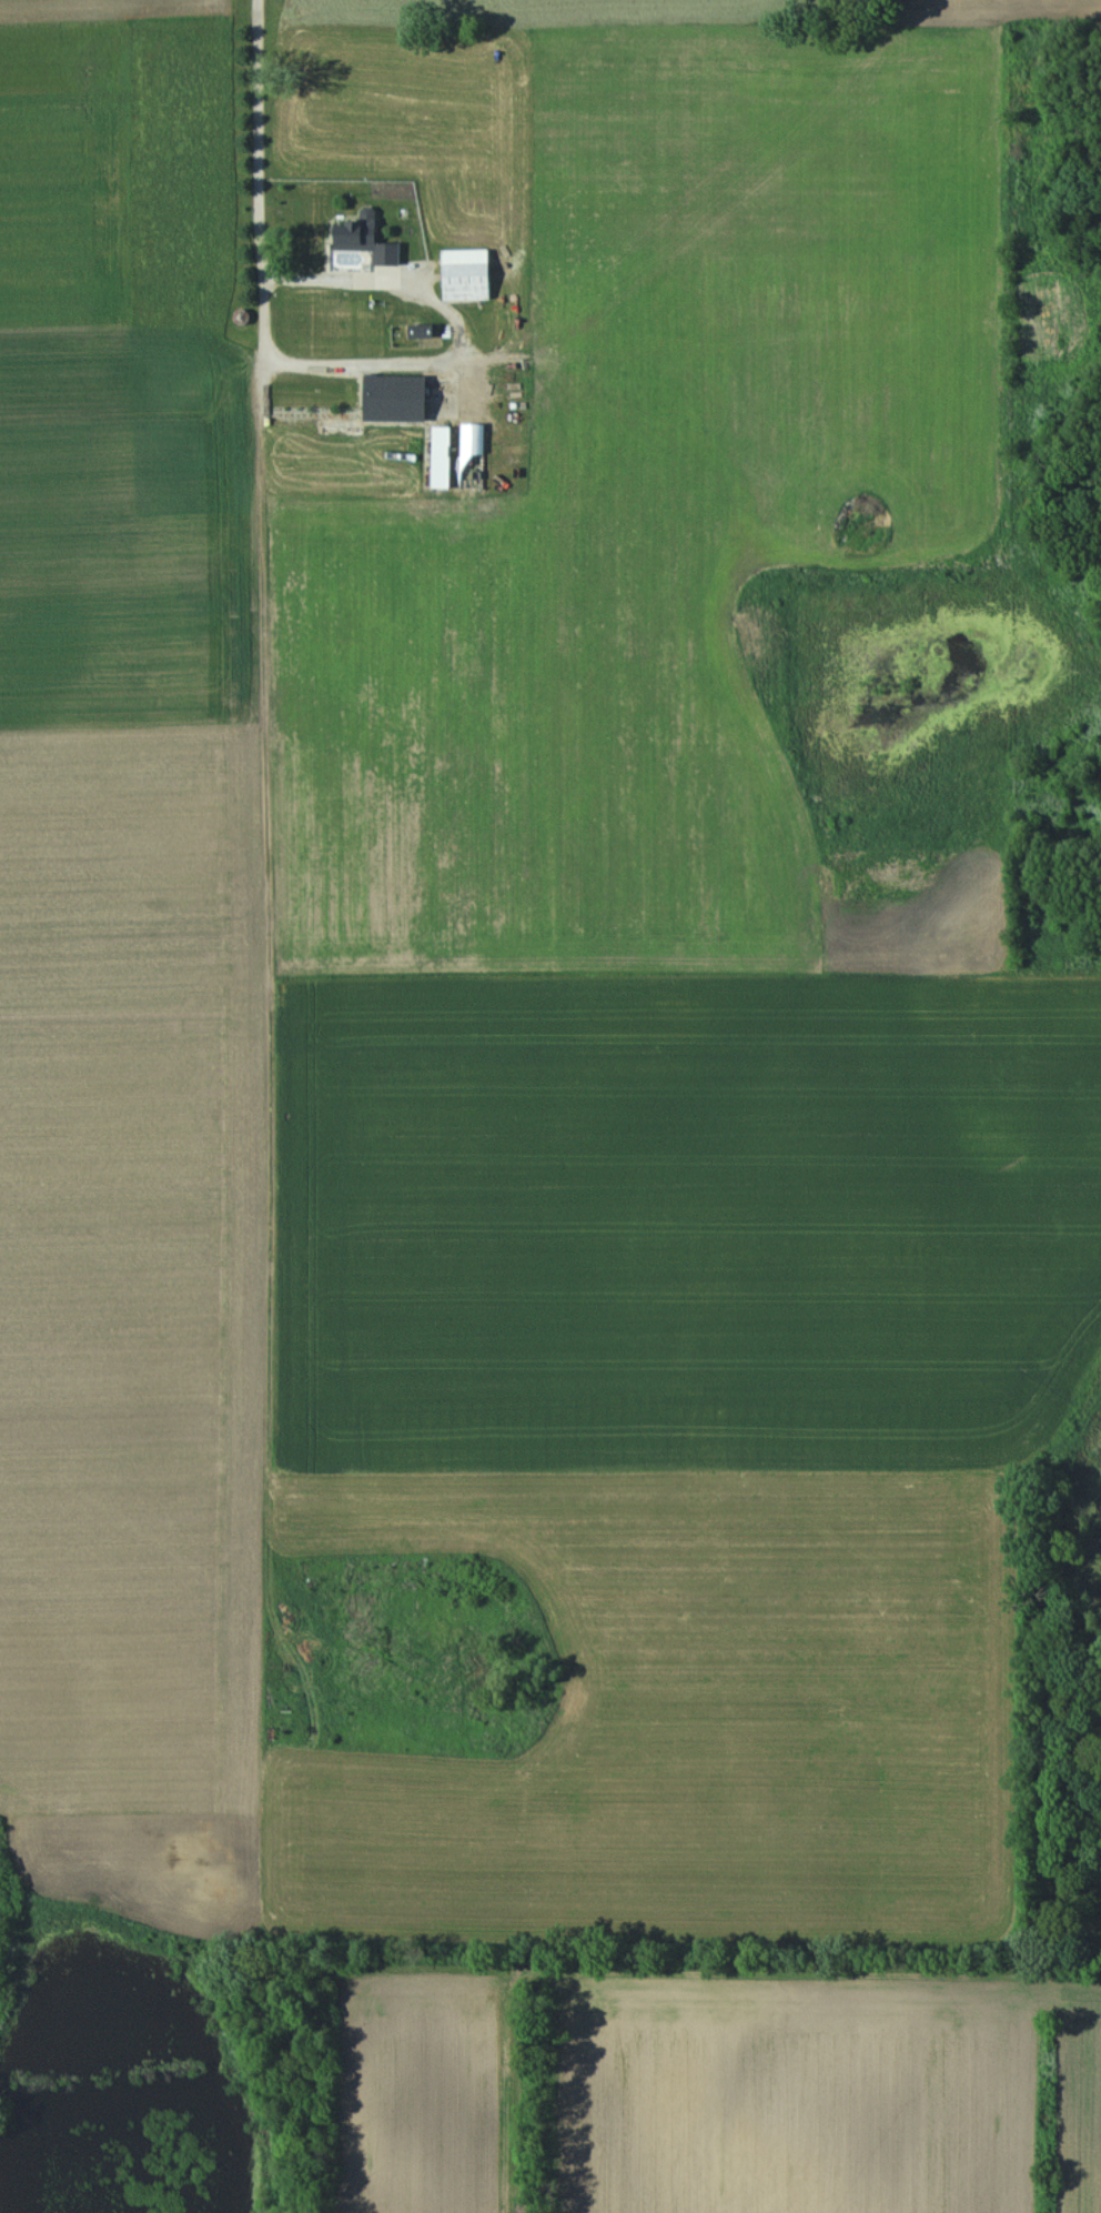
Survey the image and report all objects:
road: (263, 140)
building: (363, 229)
building: (469, 273)
road: (450, 358)
building: (398, 396)
building: (444, 455)

